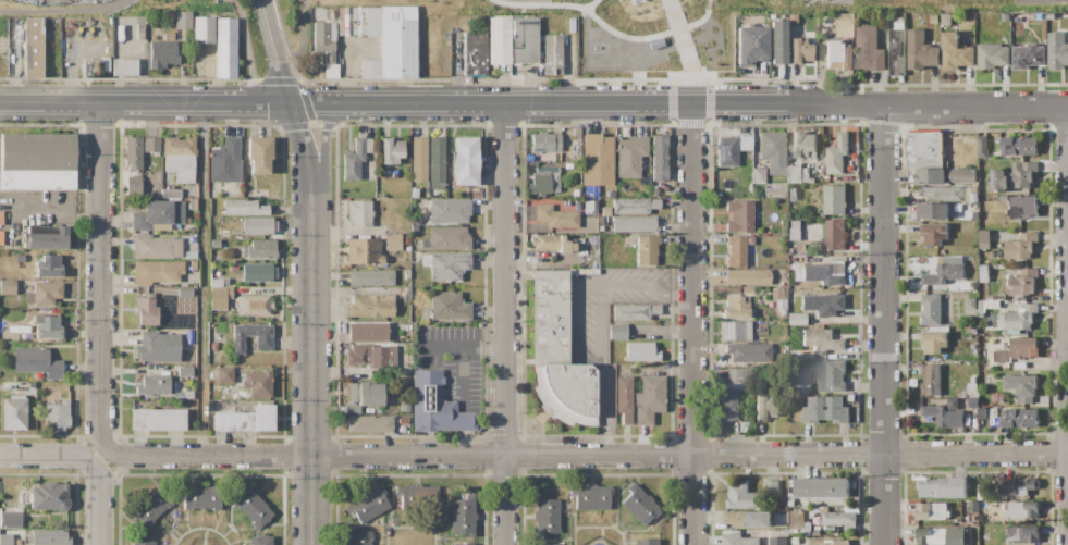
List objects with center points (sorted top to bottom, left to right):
building: (634, 0)
road: (709, 1)
road: (677, 2)
road: (590, 4)
road: (671, 5)
road: (708, 5)
park: (59, 9)
park: (640, 10)
road: (64, 11)
road: (642, 11)
road: (589, 12)
building: (329, 15)
building: (1051, 16)
building: (1005, 17)
road: (675, 18)
building: (934, 20)
building: (946, 20)
building: (183, 21)
building: (348, 21)
building: (462, 21)
road: (695, 22)
building: (572, 24)
road: (705, 24)
building: (843, 25)
building: (898, 26)
building: (202, 30)
street lamp: (689, 30)
road: (700, 35)
building: (523, 40)
building: (50, 41)
building: (778, 41)
building: (396, 42)
building: (654, 42)
building: (751, 45)
building: (326, 47)
road: (636, 47)
building: (34, 48)
building: (225, 48)
road: (714, 48)
building: (867, 49)
road: (660, 50)
building: (800, 50)
road: (275, 51)
building: (919, 51)
building: (1057, 51)
road: (305, 52)
building: (896, 52)
building: (475, 53)
building: (956, 53)
building: (162, 54)
building: (552, 54)
road: (719, 54)
building: (837, 54)
building: (992, 55)
park: (611, 57)
building: (1028, 57)
road: (688, 63)
road: (587, 64)
building: (124, 67)
road: (638, 67)
building: (369, 69)
street lamp: (702, 69)
road: (533, 103)
building: (545, 141)
building: (151, 144)
building: (805, 146)
building: (1019, 146)
building: (982, 148)
building: (391, 150)
building: (924, 150)
building: (726, 151)
building: (773, 151)
building: (132, 152)
building: (839, 152)
building: (259, 153)
building: (630, 156)
building: (659, 157)
building: (180, 158)
building: (419, 158)
building: (355, 159)
building: (598, 160)
building: (37, 161)
building: (225, 161)
building: (465, 161)
building: (437, 162)
building: (395, 174)
building: (759, 175)
building: (798, 175)
building: (931, 176)
building: (962, 176)
building: (1014, 177)
building: (544, 181)
building: (134, 182)
building: (172, 193)
building: (793, 195)
building: (949, 195)
building: (834, 200)
building: (193, 203)
building: (634, 206)
building: (1022, 207)
building: (244, 208)
building: (447, 210)
building: (933, 211)
building: (359, 213)
building: (158, 215)
building: (555, 216)
building: (739, 216)
building: (973, 216)
building: (635, 223)
building: (258, 225)
building: (794, 231)
building: (933, 234)
building: (834, 235)
building: (45, 237)
building: (449, 237)
building: (544, 240)
building: (393, 241)
building: (216, 243)
building: (565, 246)
building: (157, 247)
building: (1020, 247)
building: (257, 249)
building: (647, 250)
building: (735, 250)
building: (364, 251)
building: (20, 257)
building: (193, 264)
building: (446, 265)
building: (49, 267)
building: (157, 271)
building: (945, 271)
building: (258, 272)
building: (821, 274)
building: (983, 274)
road: (100, 275)
building: (778, 275)
building: (747, 276)
building: (371, 277)
road: (202, 278)
building: (218, 282)
building: (1022, 284)
building: (8, 286)
building: (747, 289)
building: (185, 292)
building: (46, 293)
building: (781, 294)
building: (220, 297)
building: (998, 298)
building: (183, 304)
building: (255, 304)
building: (971, 304)
building: (823, 305)
building: (371, 306)
building: (449, 306)
building: (736, 307)
building: (931, 310)
building: (146, 311)
building: (635, 311)
building: (549, 317)
building: (1021, 318)
road: (575, 319)
building: (797, 319)
road: (310, 322)
road: (505, 323)
road: (691, 324)
road: (884, 324)
road: (1066, 324)
road: (298, 326)
road: (604, 326)
building: (47, 327)
building: (761, 327)
building: (735, 331)
building: (370, 332)
building: (617, 332)
building: (191, 339)
building: (933, 342)
building: (263, 343)
building: (817, 345)
building: (214, 346)
building: (157, 347)
road: (461, 349)
building: (1018, 349)
building: (641, 351)
building: (749, 351)
building: (372, 356)
building: (36, 361)
building: (185, 371)
building: (224, 374)
building: (404, 374)
building: (740, 375)
building: (831, 376)
road: (459, 377)
building: (930, 381)
building: (258, 383)
building: (799, 383)
building: (154, 385)
building: (1021, 387)
building: (566, 392)
building: (975, 394)
building: (364, 396)
building: (996, 398)
building: (624, 399)
building: (649, 399)
building: (435, 404)
building: (727, 405)
building: (405, 406)
building: (765, 407)
building: (825, 410)
building: (13, 412)
building: (57, 416)
building: (944, 418)
building: (158, 419)
building: (245, 419)
building: (1019, 419)
building: (974, 421)
building: (370, 423)
road: (49, 455)
road: (588, 455)
road: (103, 456)
building: (1019, 486)
building: (942, 487)
building: (821, 488)
building: (771, 490)
building: (985, 493)
building: (49, 496)
building: (201, 497)
building: (591, 497)
building: (741, 497)
building: (417, 498)
road: (99, 505)
building: (369, 505)
building: (641, 506)
building: (972, 506)
building: (151, 507)
building: (251, 507)
building: (1022, 510)
building: (932, 511)
building: (462, 515)
building: (547, 515)
building: (11, 519)
building: (748, 519)
building: (838, 519)
building: (797, 520)
building: (50, 536)
building: (943, 536)
building: (1021, 536)
building: (359, 537)
building: (5, 540)
building: (260, 540)
building: (738, 540)
building: (777, 541)
building: (830, 542)
building: (144, 543)
building: (648, 543)
building: (461, 544)
building: (548, 544)

